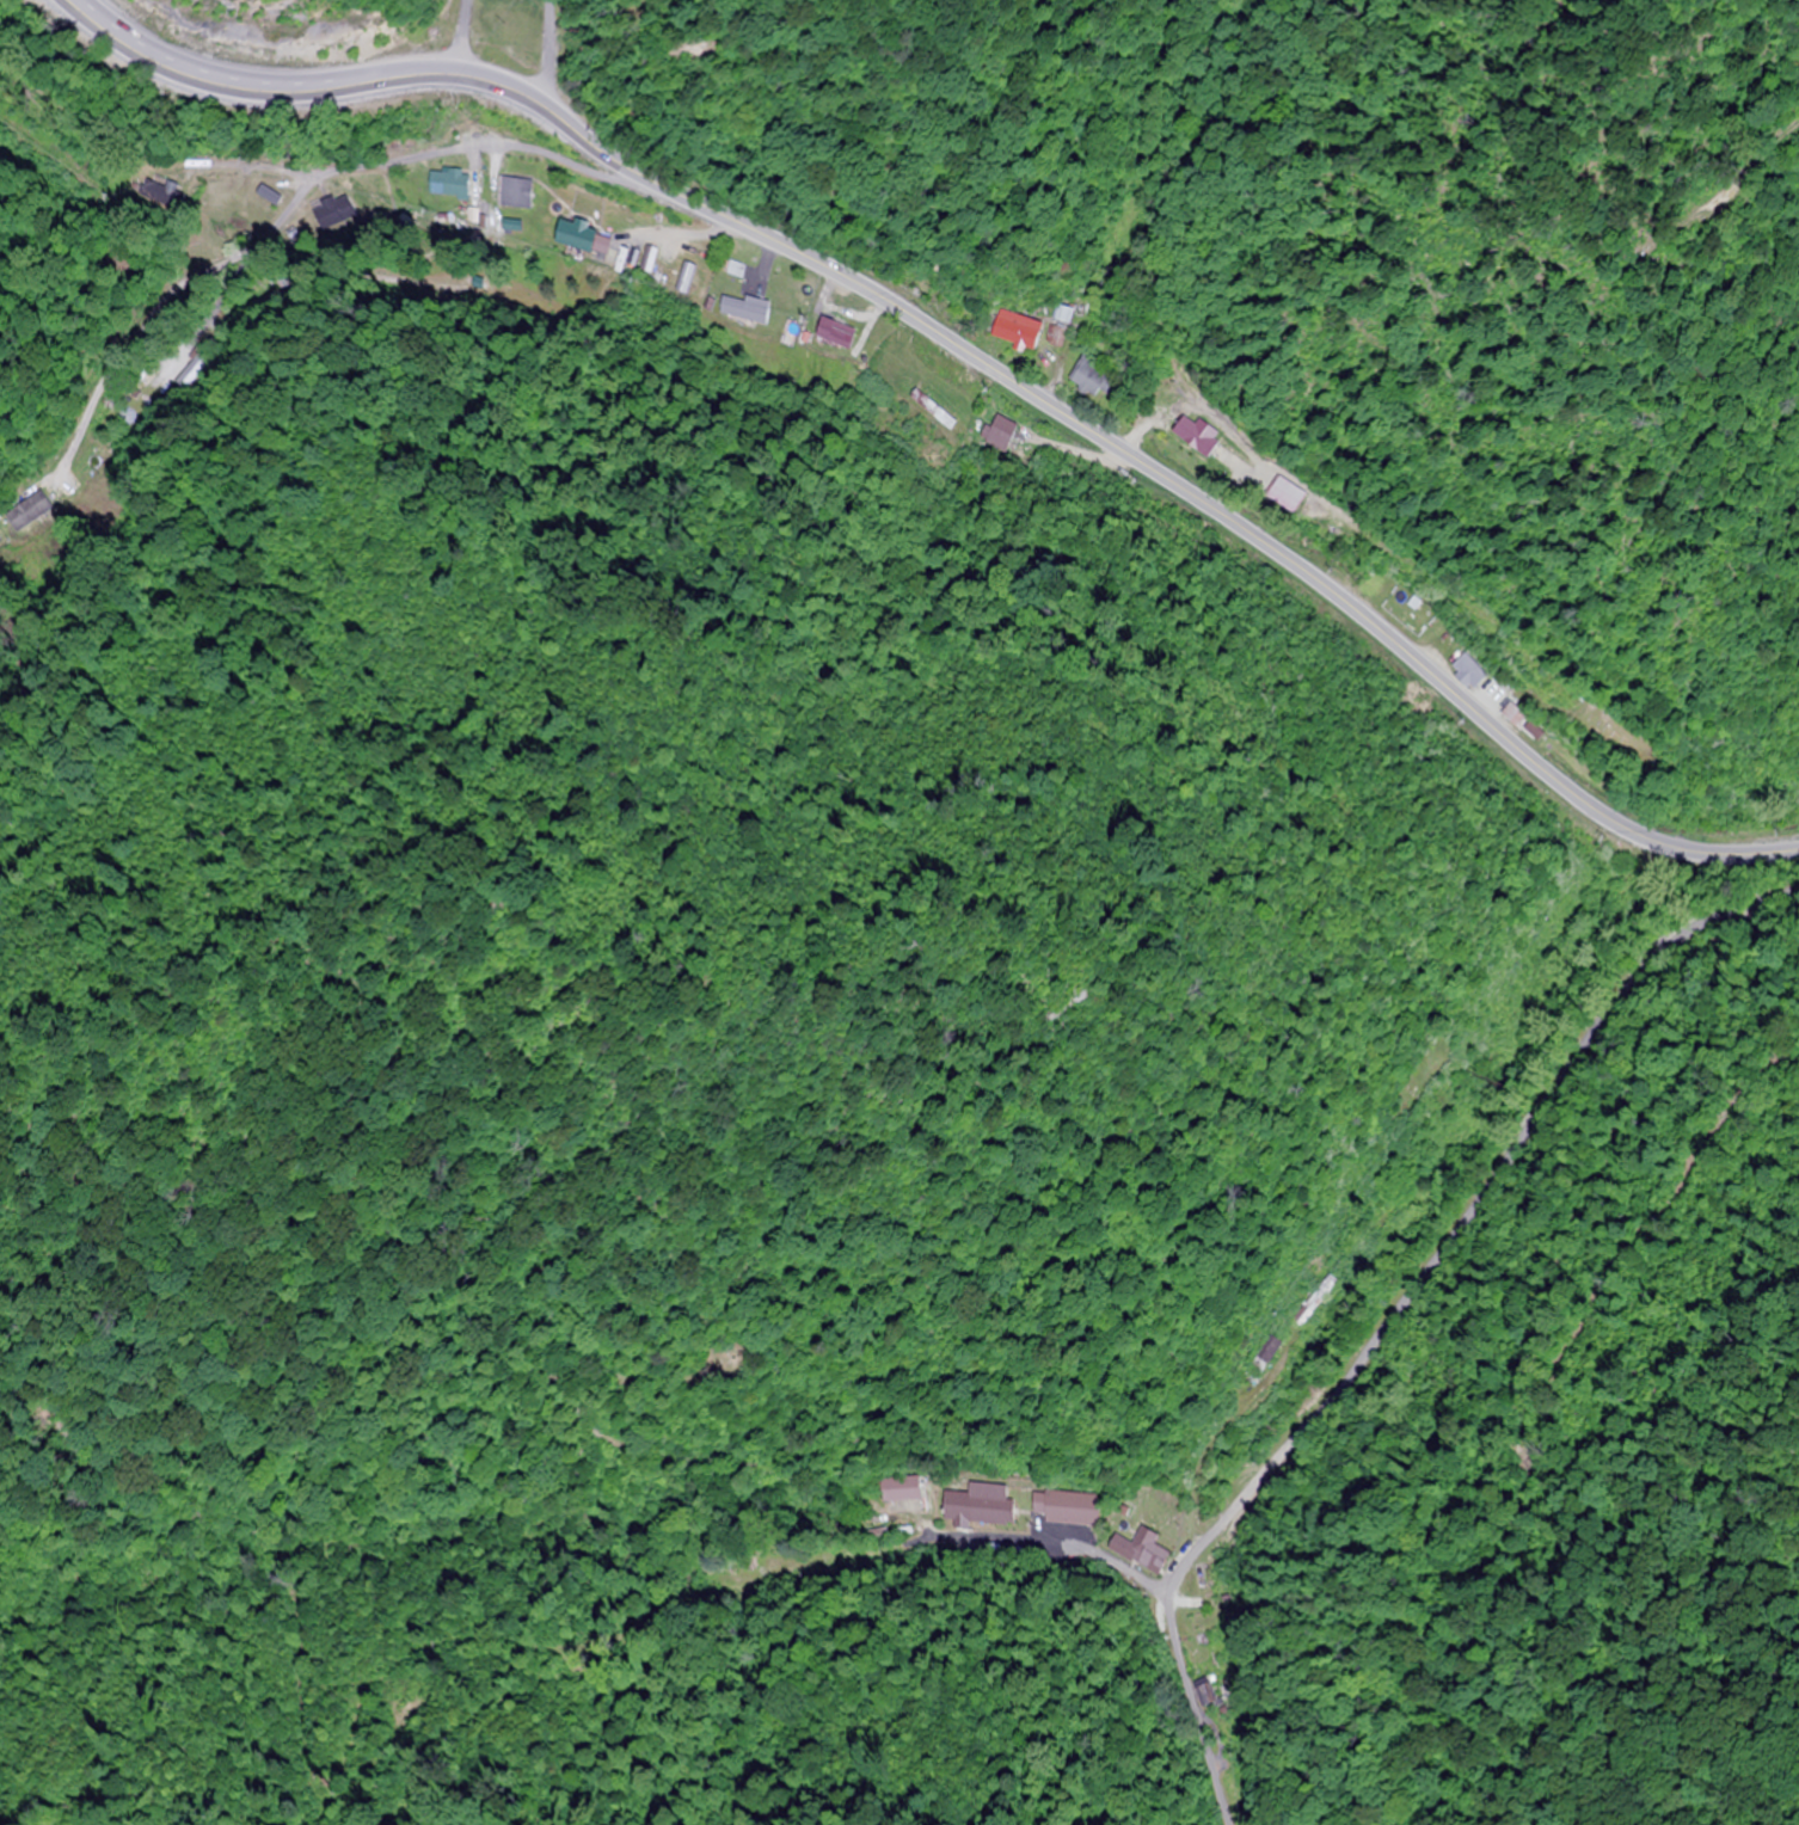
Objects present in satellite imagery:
road: (377, 162)
building: (453, 184)
building: (520, 193)
building: (274, 196)
building: (223, 228)
building: (582, 236)
building: (681, 277)
building: (742, 311)
road: (927, 322)
building: (1033, 333)
building: (836, 334)
building: (1099, 380)
building: (934, 411)
building: (1000, 431)
building: (1204, 437)
building: (1287, 490)
building: (37, 506)
building: (1472, 674)
building: (1523, 723)
road: (1729, 910)
building: (1318, 1299)
road: (1401, 1303)
building: (905, 1488)
building: (980, 1506)
building: (1070, 1508)
building: (1146, 1551)
building: (1208, 1577)
building: (1210, 1692)

